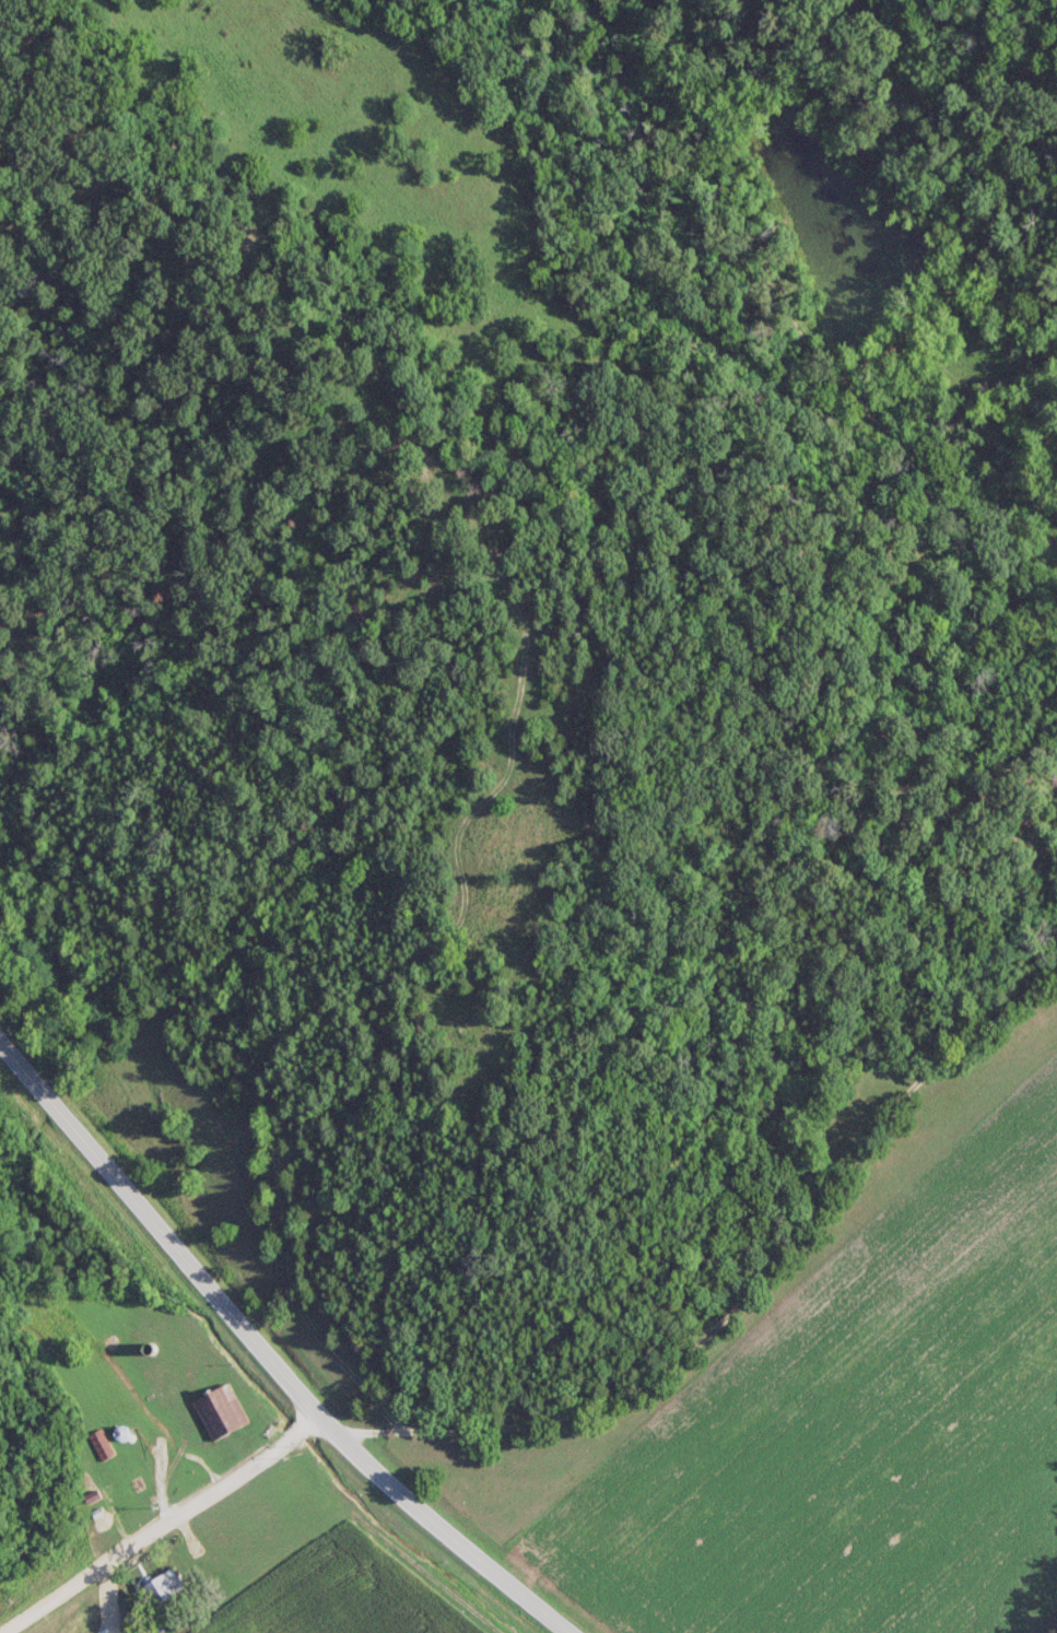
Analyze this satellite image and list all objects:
road: (267, 1355)
building: (221, 1411)
building: (99, 1444)
road: (162, 1523)
building: (164, 1586)

